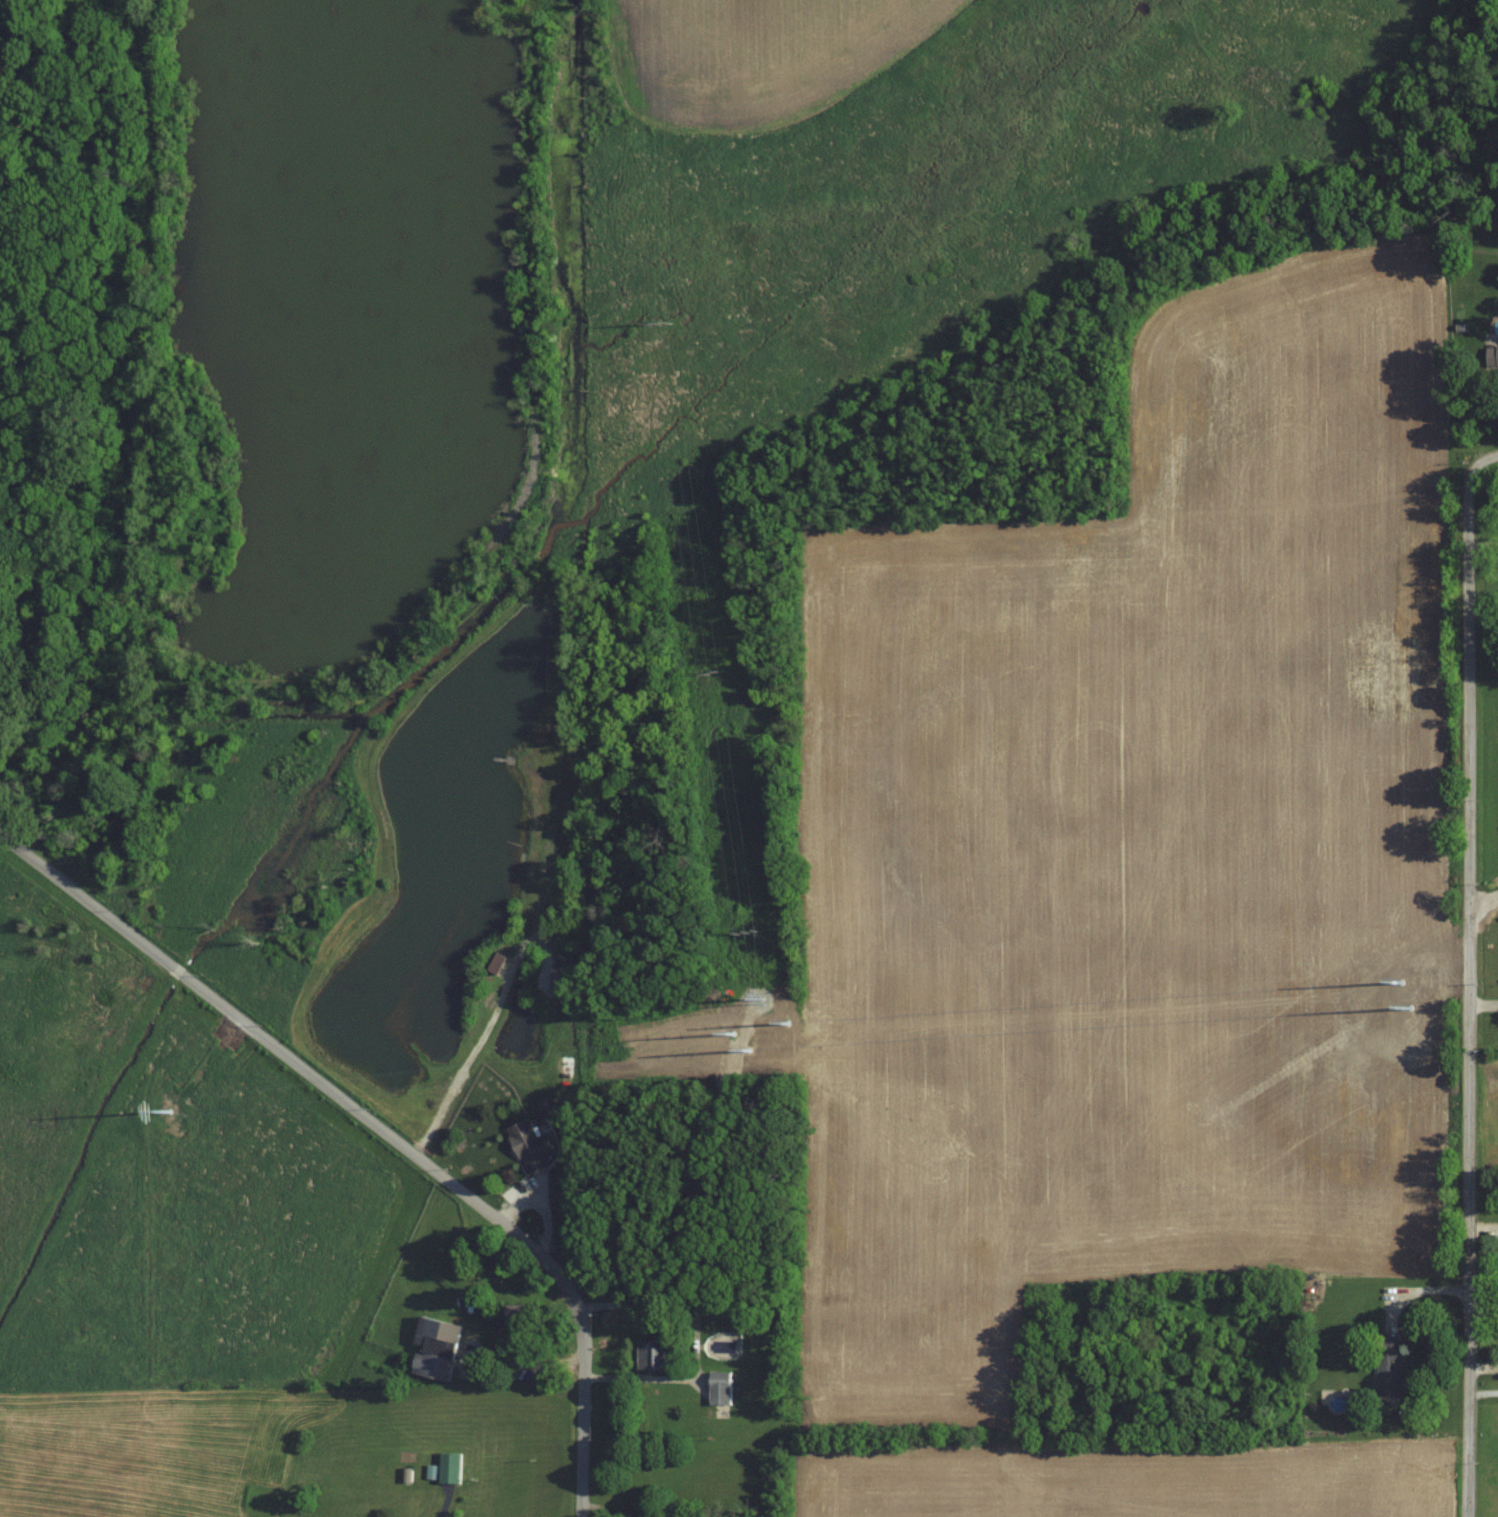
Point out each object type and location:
building: (1492, 355)
quarry: (361, 515)
power tower: (711, 675)
power tower: (747, 935)
building: (496, 963)
road: (1468, 979)
power tower: (1399, 982)
power tower: (760, 998)
power tower: (1408, 1009)
power tower: (787, 1023)
power tower: (733, 1035)
power tower: (748, 1051)
road: (297, 1064)
building: (562, 1067)
building: (550, 1108)
power tower: (169, 1112)
building: (530, 1145)
building: (521, 1316)
building: (436, 1350)
building: (652, 1355)
building: (1387, 1370)
building: (720, 1389)
road: (584, 1413)
building: (447, 1468)

